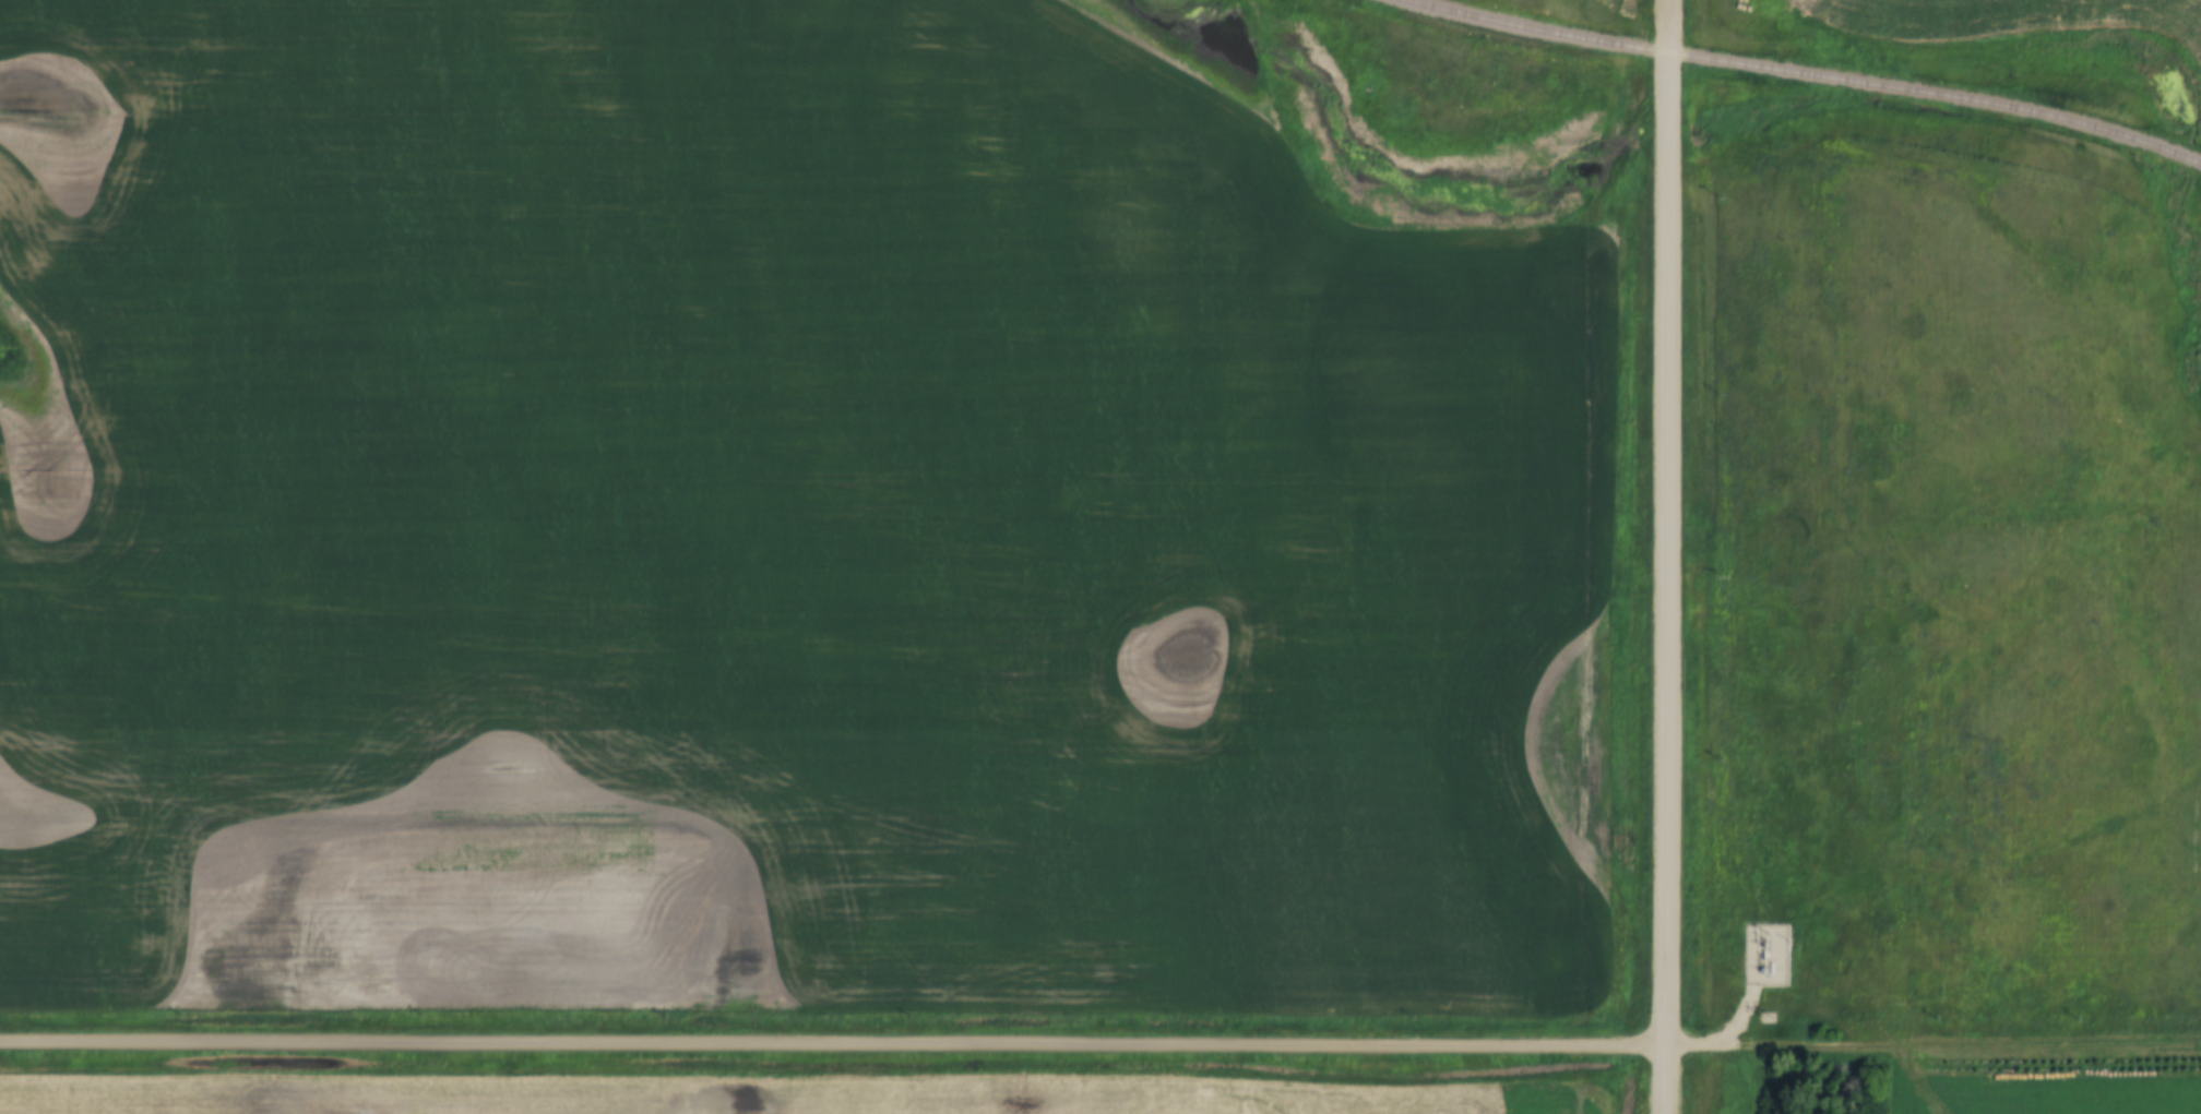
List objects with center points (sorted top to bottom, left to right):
railway: (1803, 73)
road: (1666, 556)
power substation: (1771, 954)
road: (1737, 1017)
road: (830, 1045)
road: (1961, 1045)
road: (1691, 1046)

